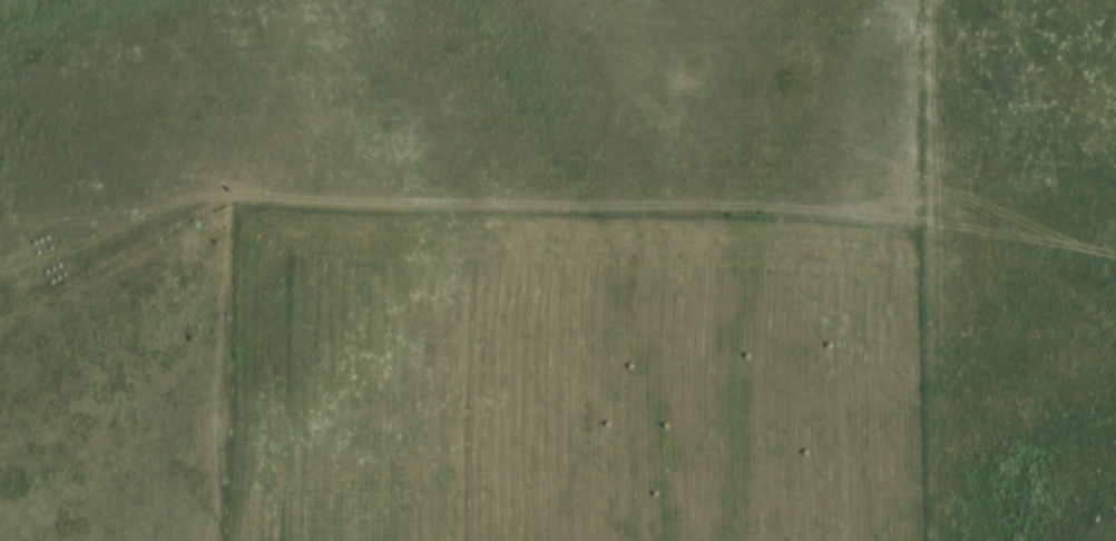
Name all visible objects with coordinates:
road: (924, 269)

